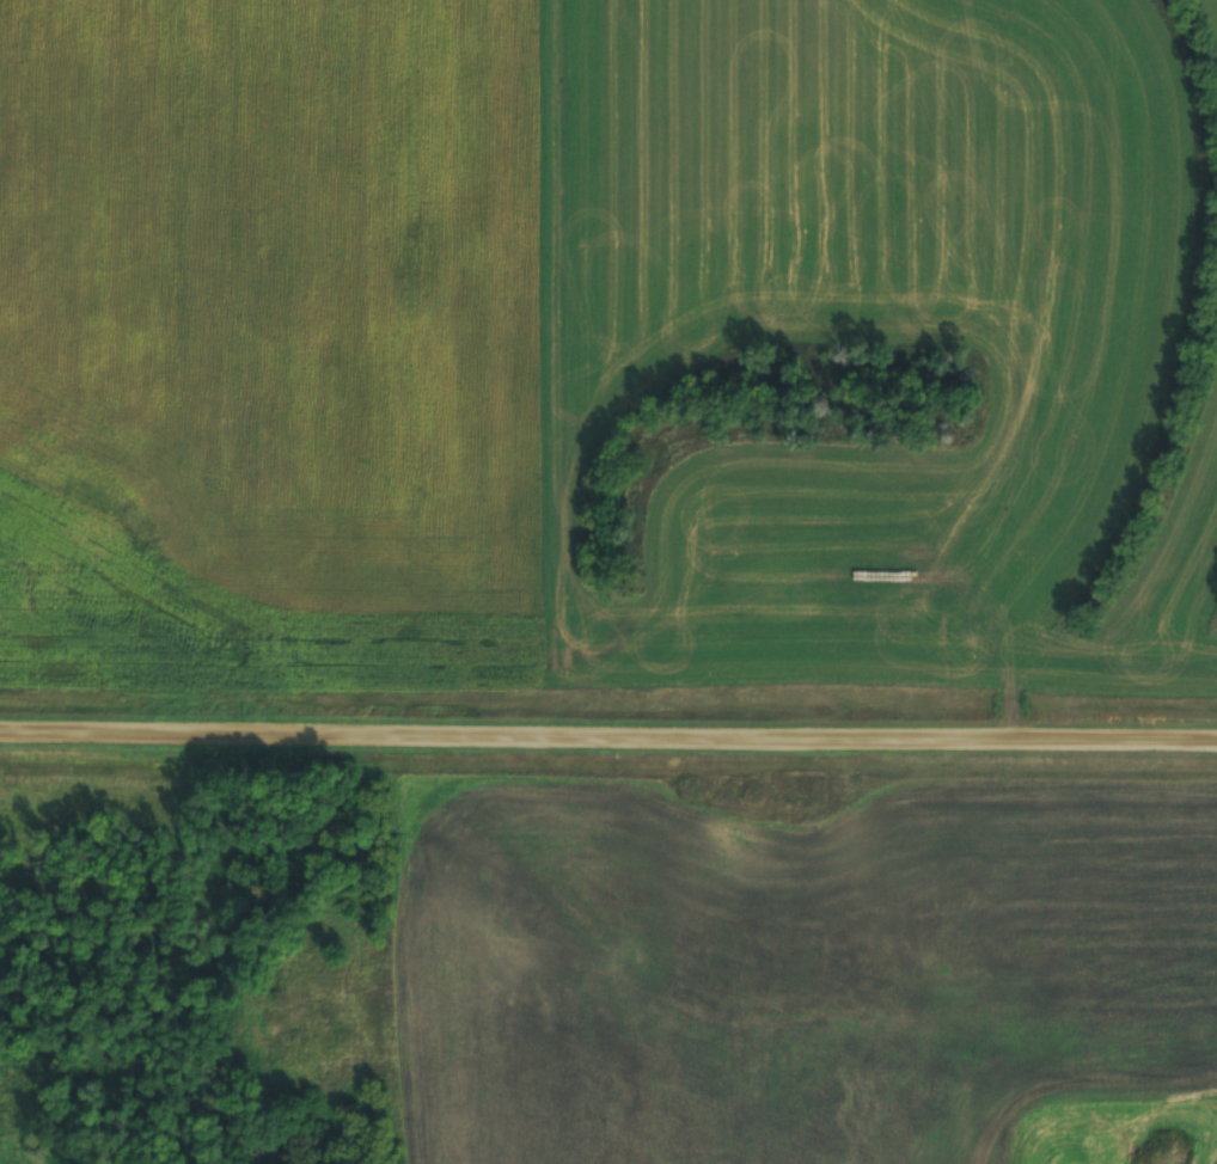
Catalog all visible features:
road: (608, 736)

